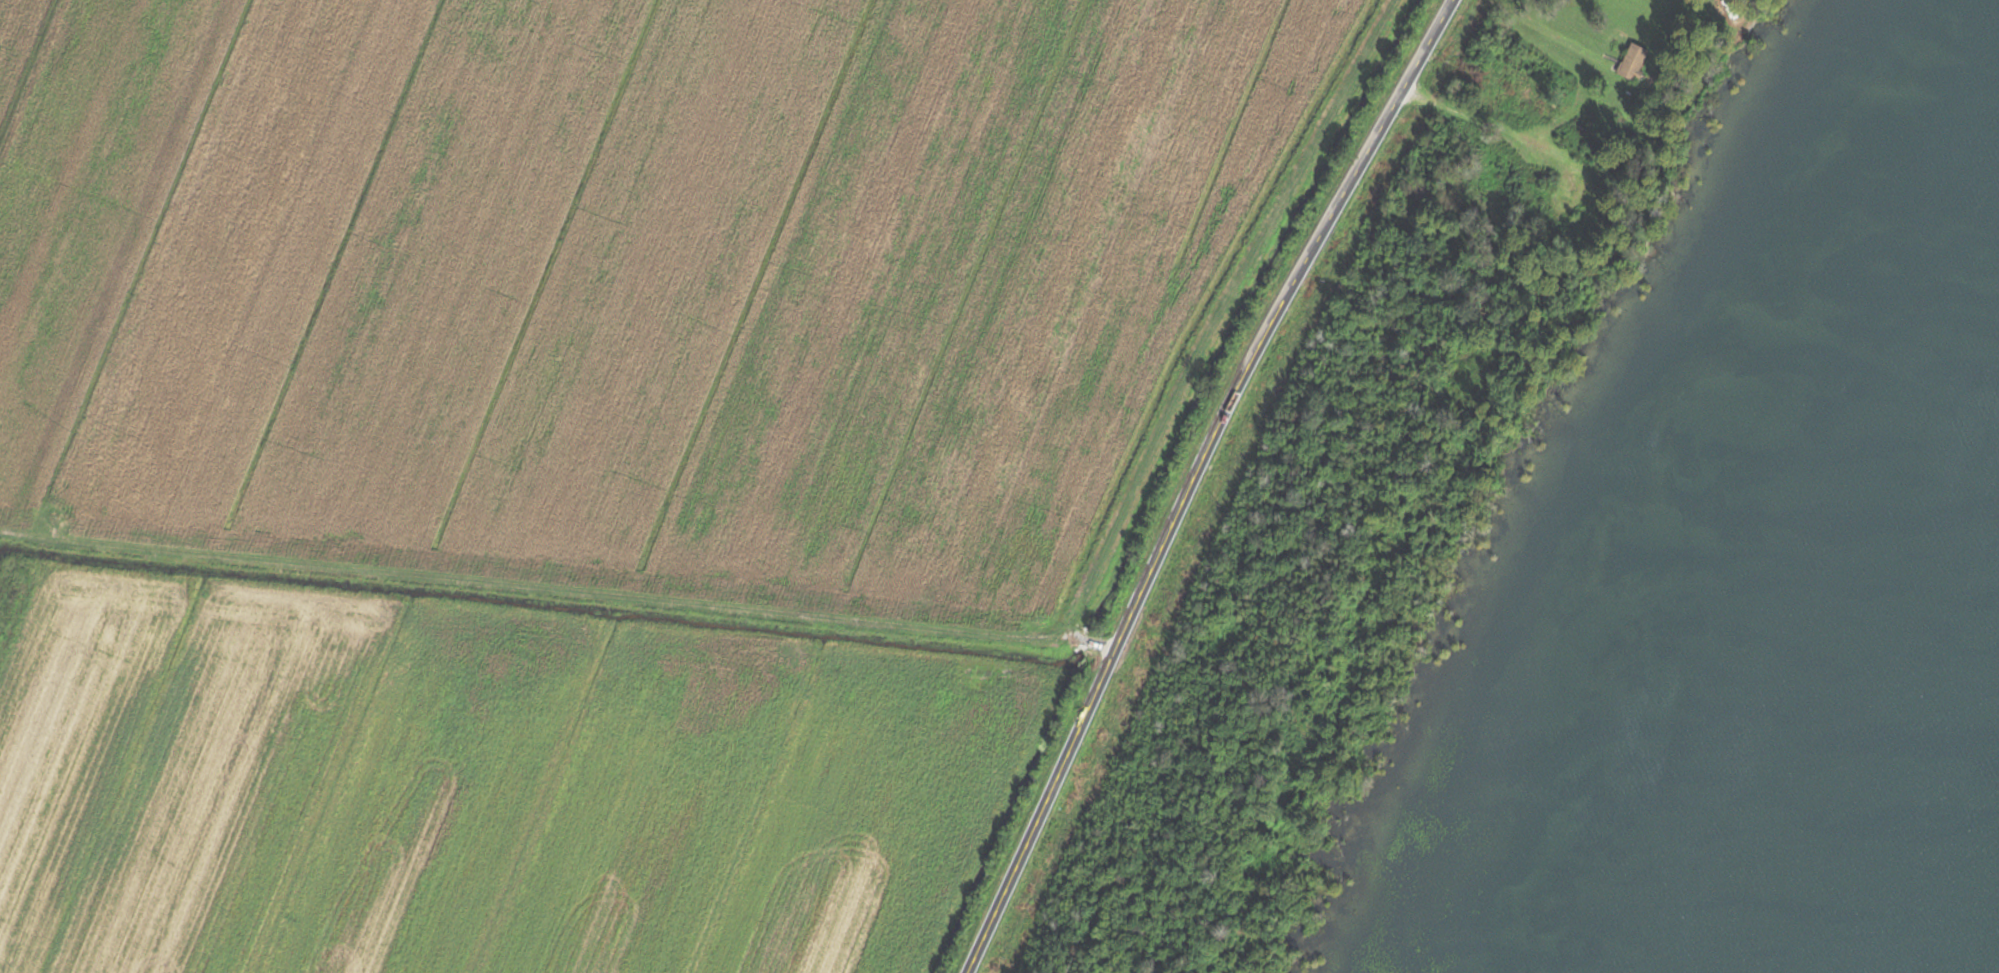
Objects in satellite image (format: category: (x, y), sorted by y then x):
road: (1549, 30)
building: (1629, 61)
road: (1479, 119)
building: (1567, 190)
crop: (600, 453)
road: (1196, 479)
road: (558, 586)

